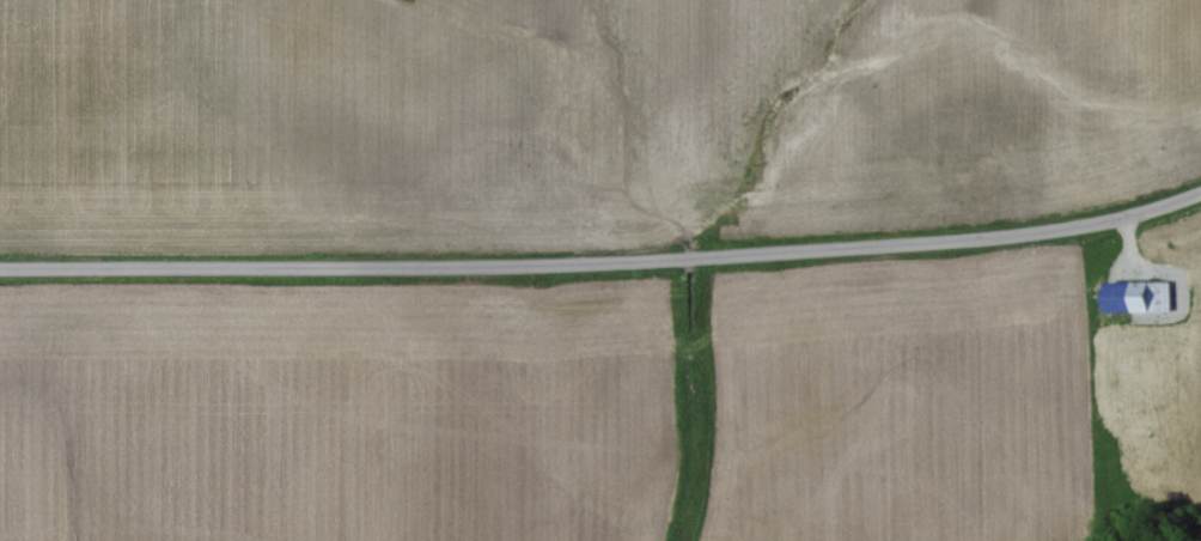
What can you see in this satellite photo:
road: (604, 265)

